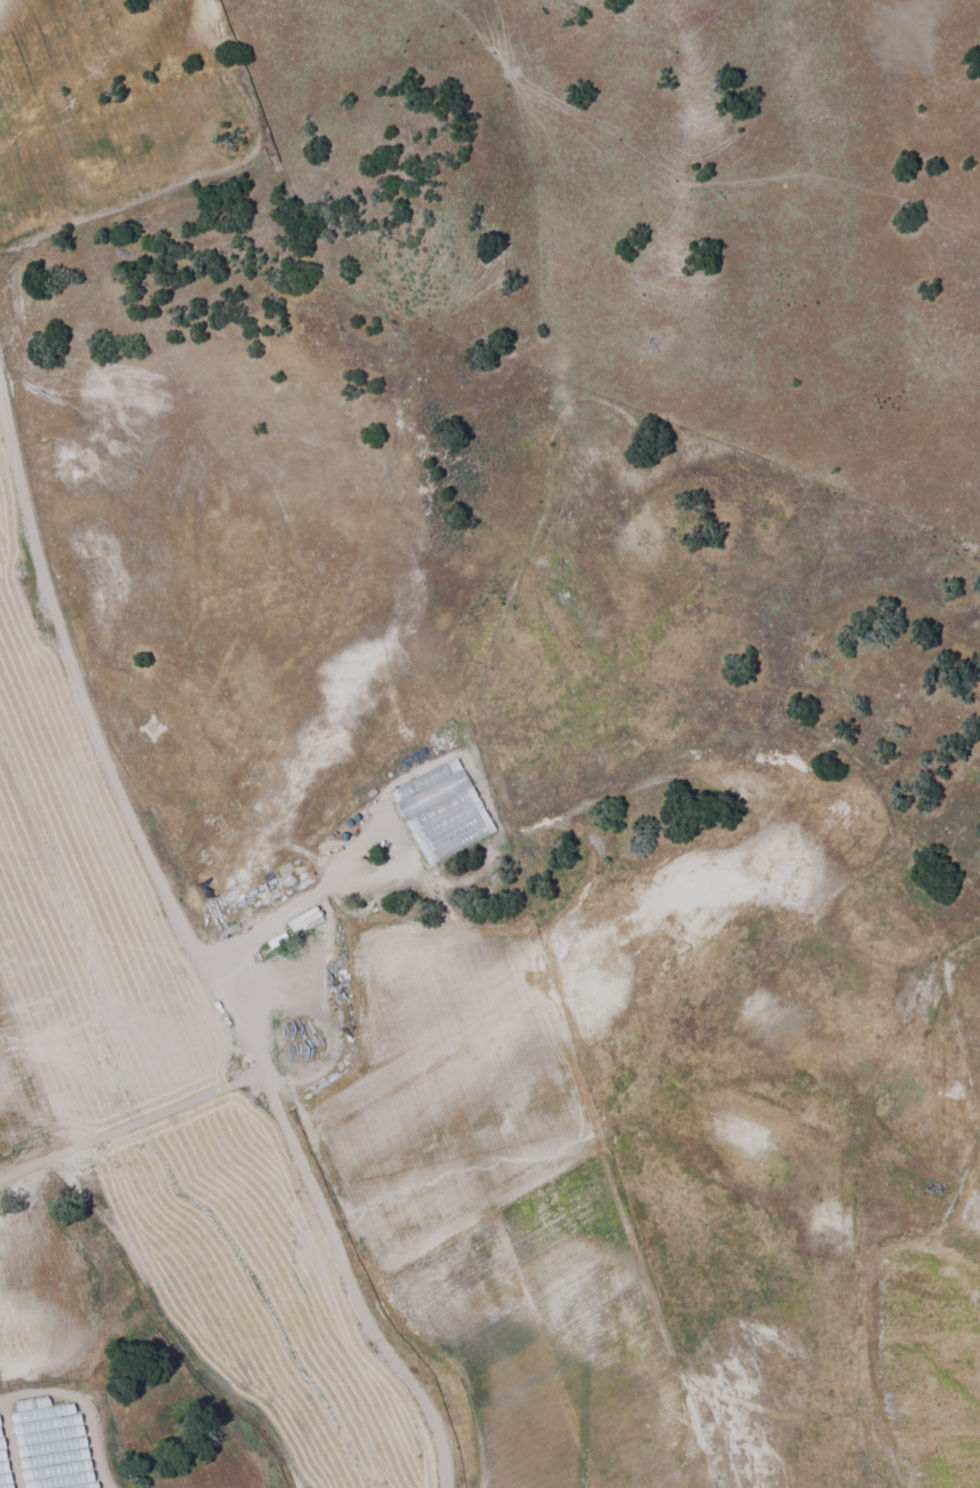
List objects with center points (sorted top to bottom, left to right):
building: (442, 811)
building: (305, 919)
road: (188, 948)
crop: (166, 1090)
crop: (917, 1292)

